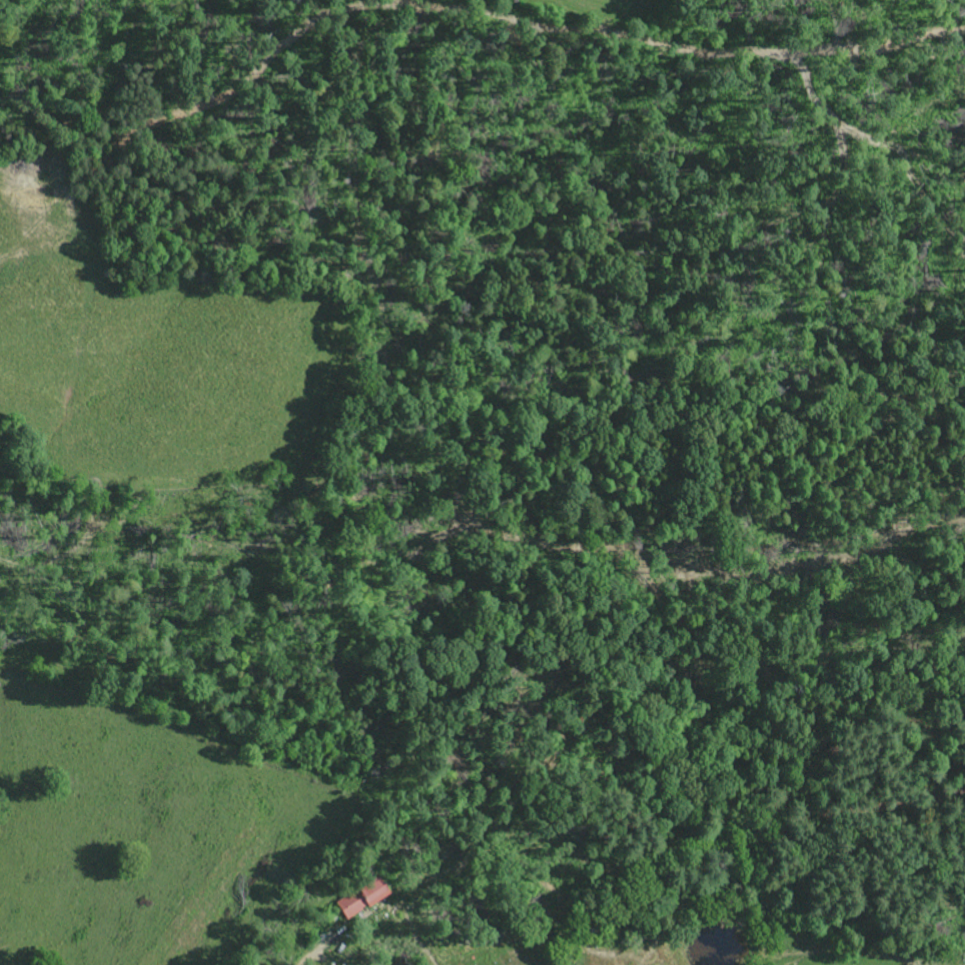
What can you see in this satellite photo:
building: (359, 899)
road: (335, 923)

